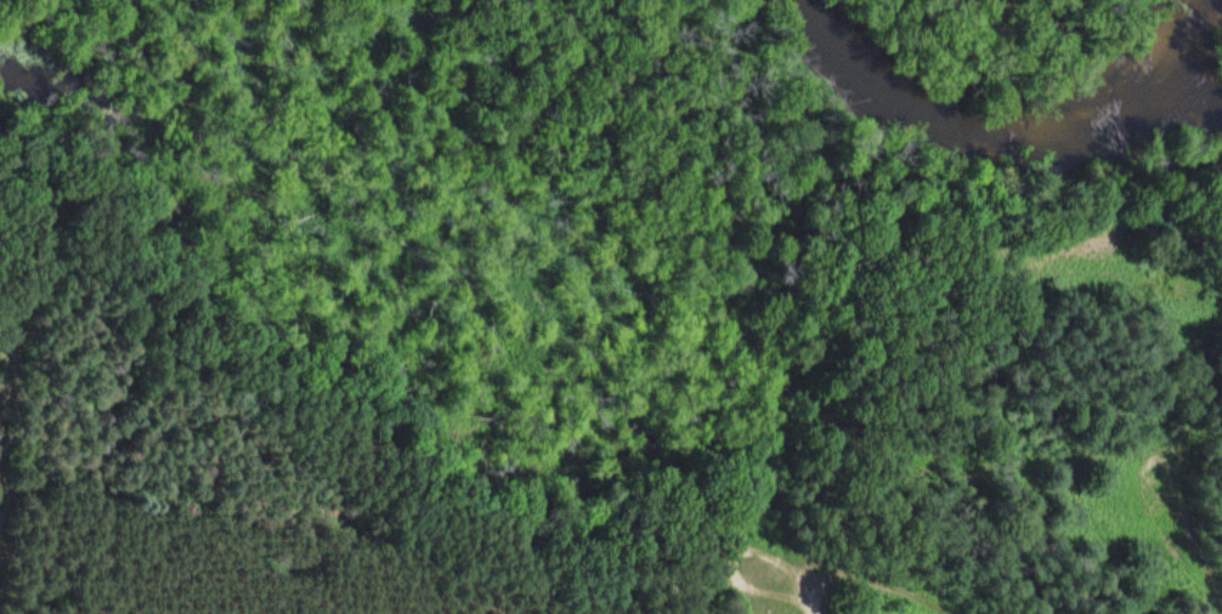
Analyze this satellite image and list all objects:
river: (1017, 135)

